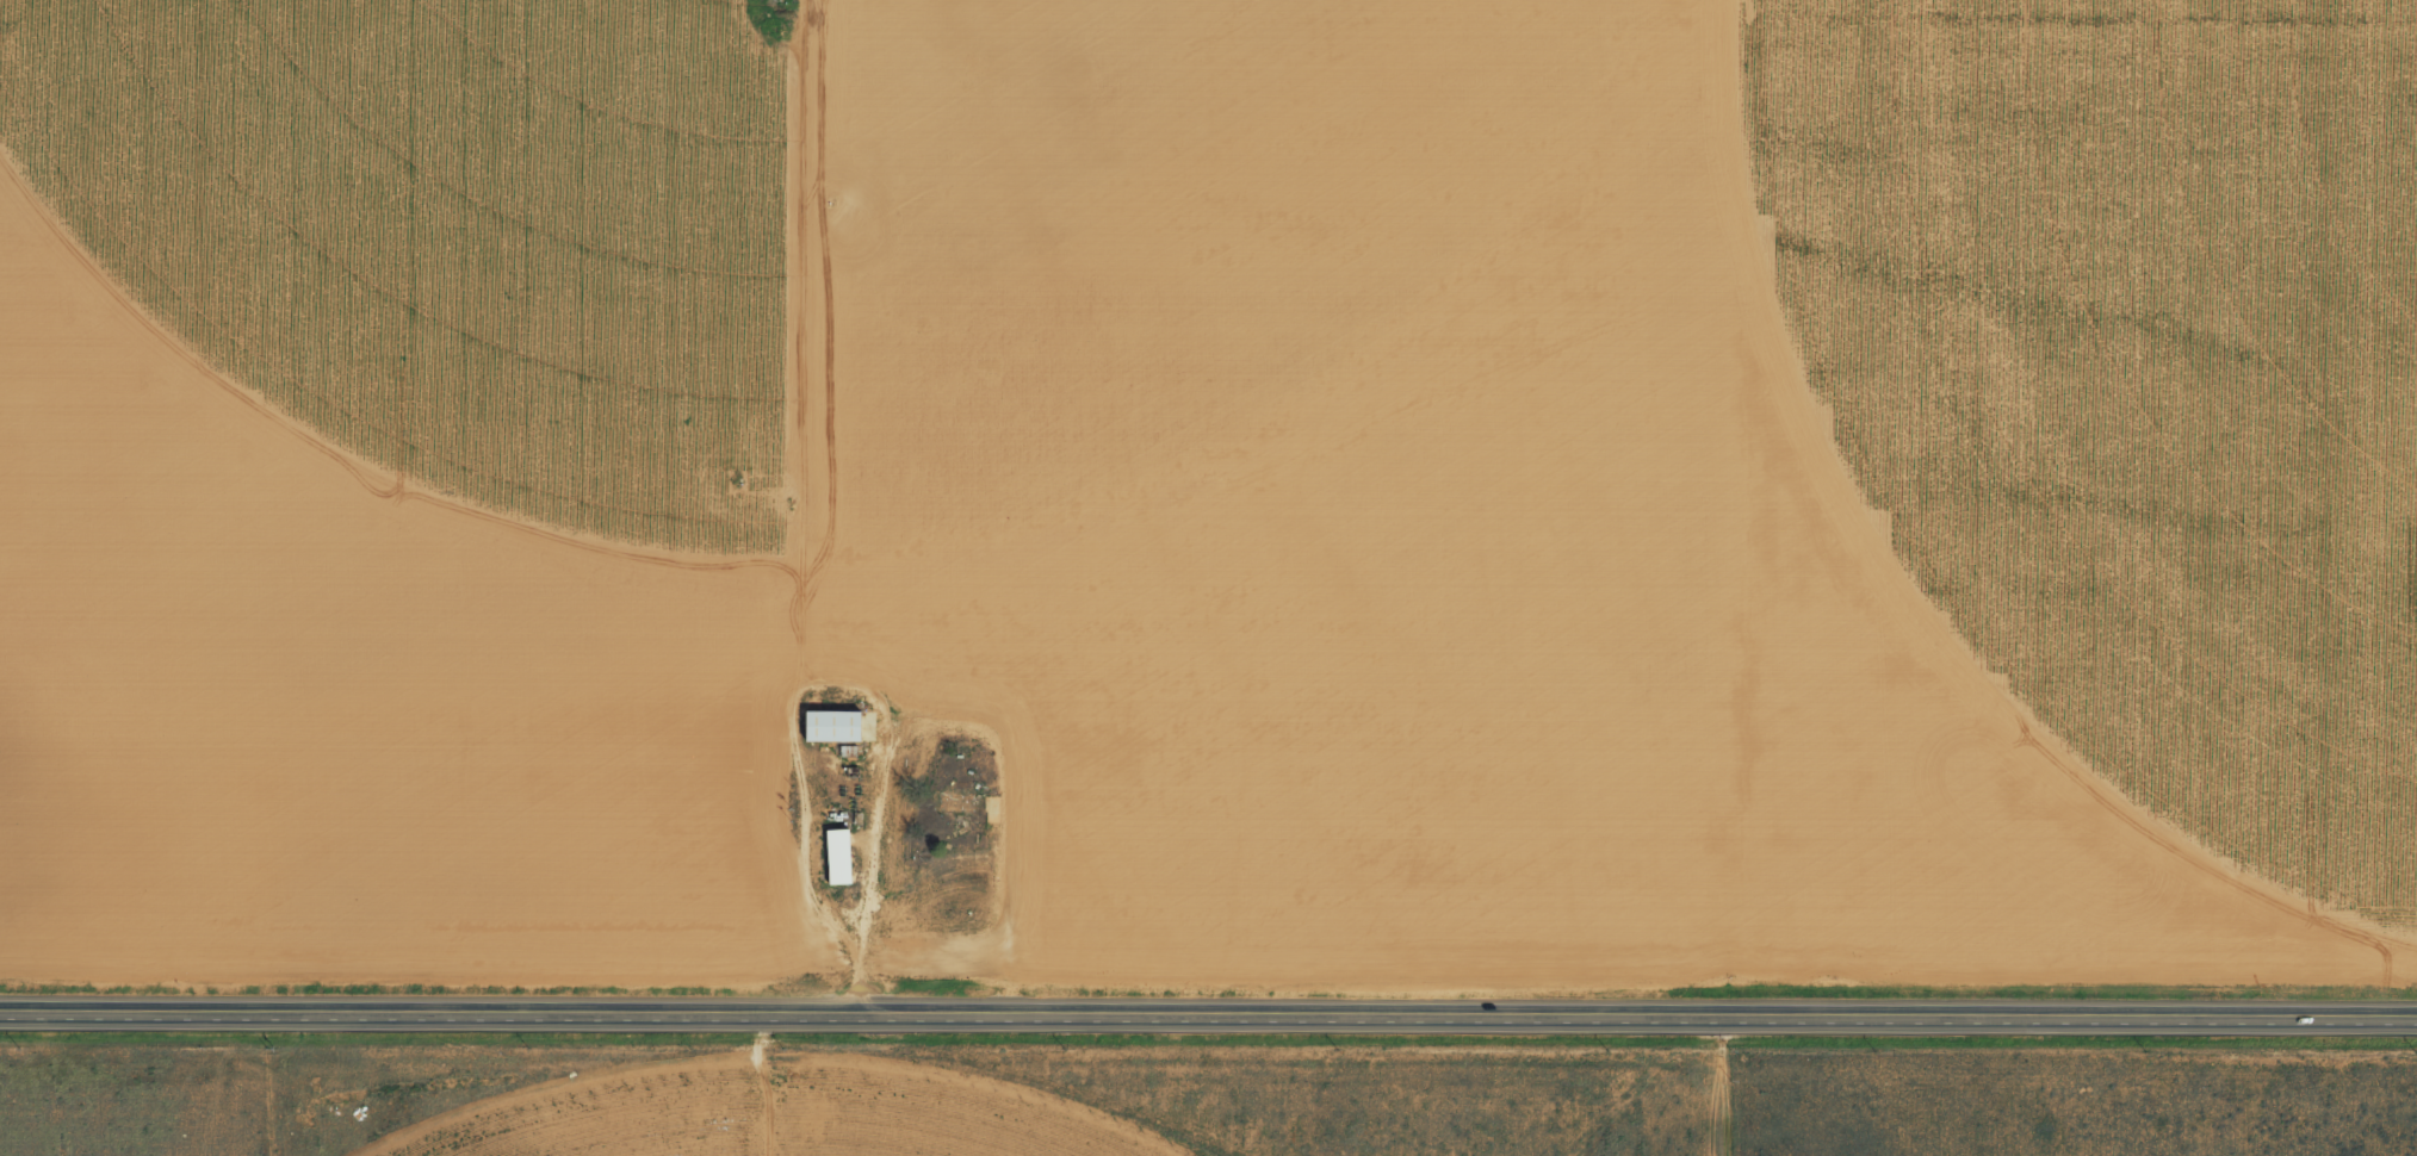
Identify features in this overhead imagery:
building: (835, 726)
road: (1208, 1012)

